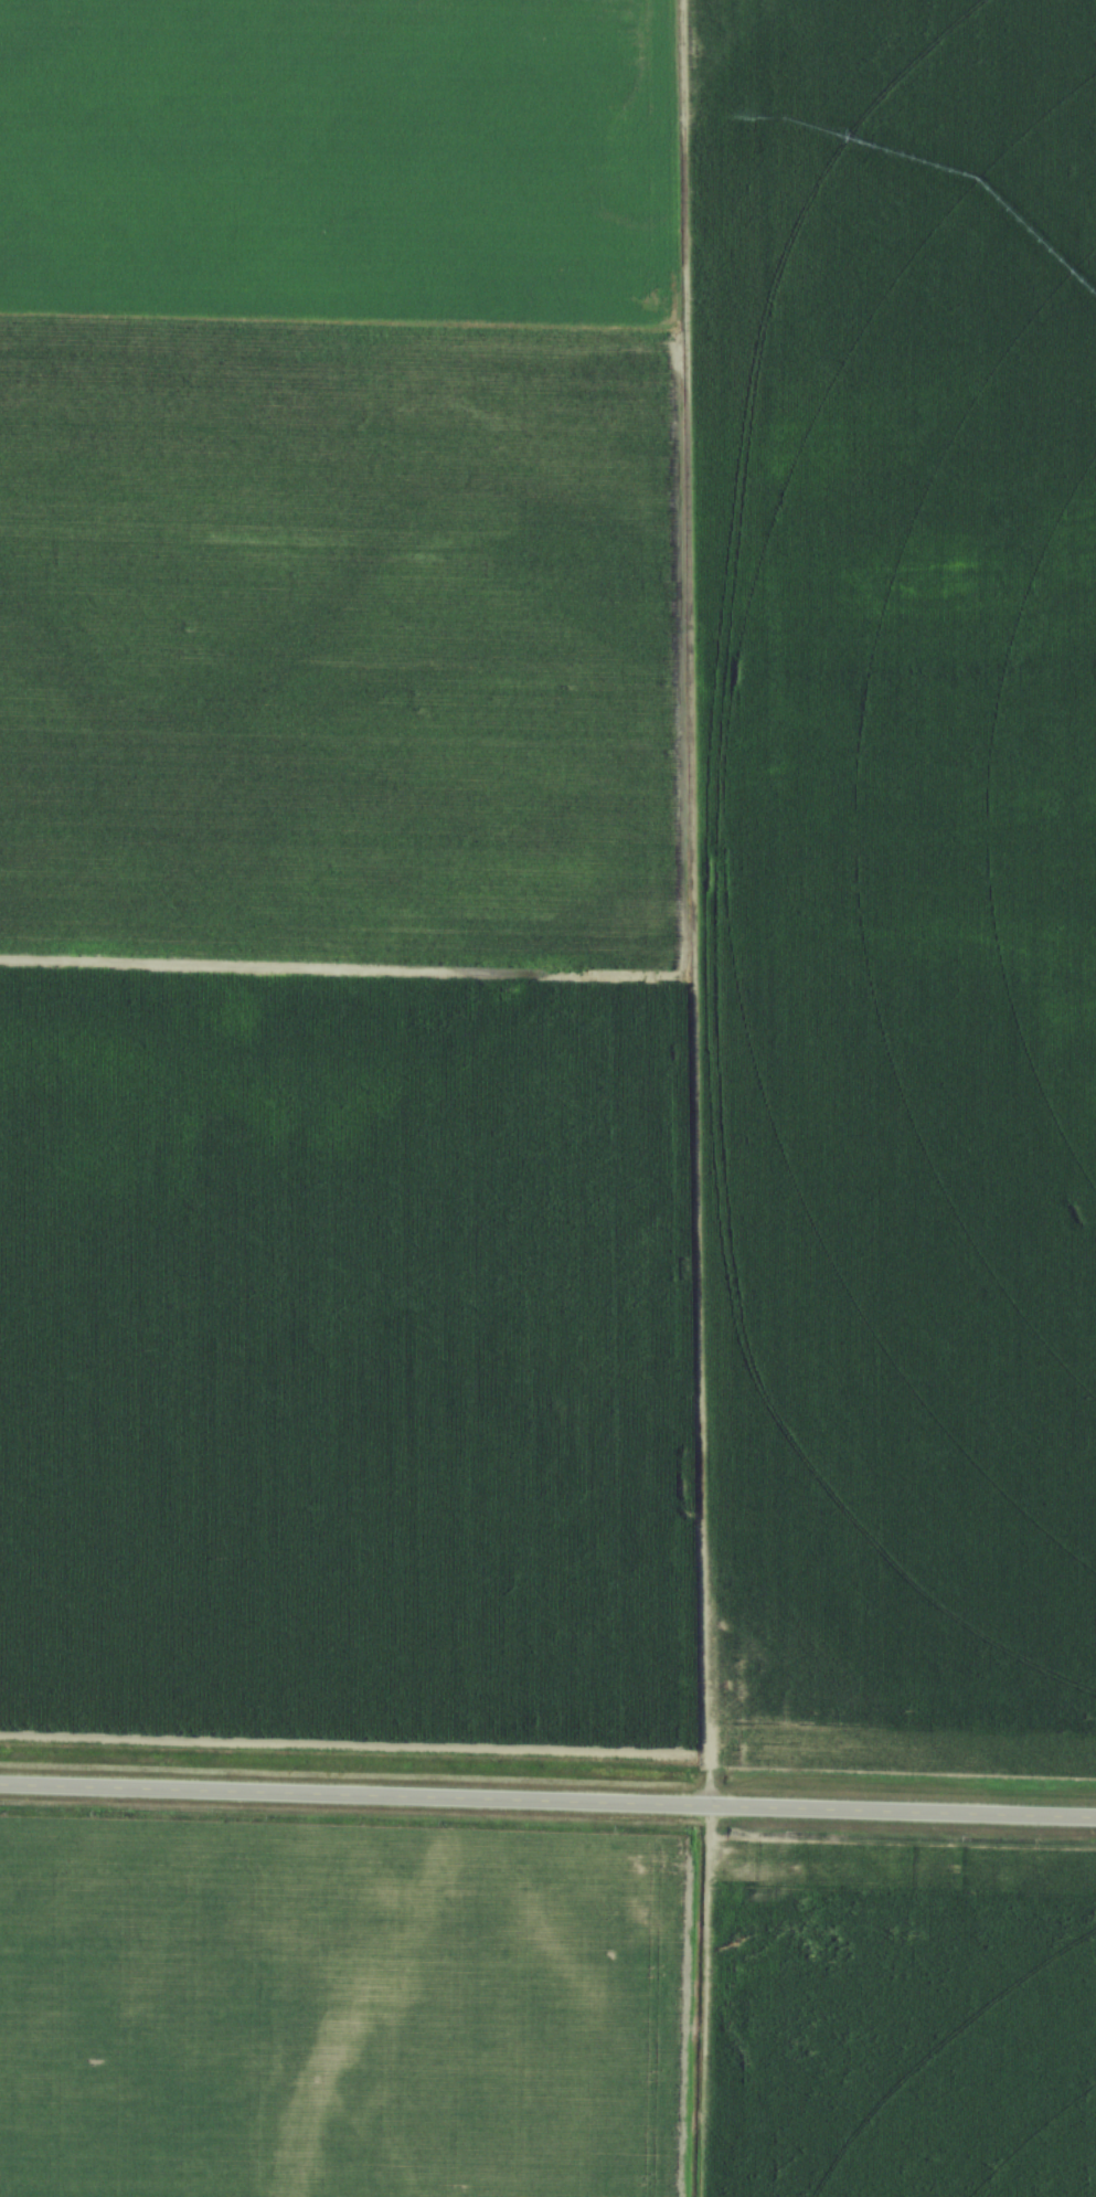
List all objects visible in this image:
road: (547, 1803)

